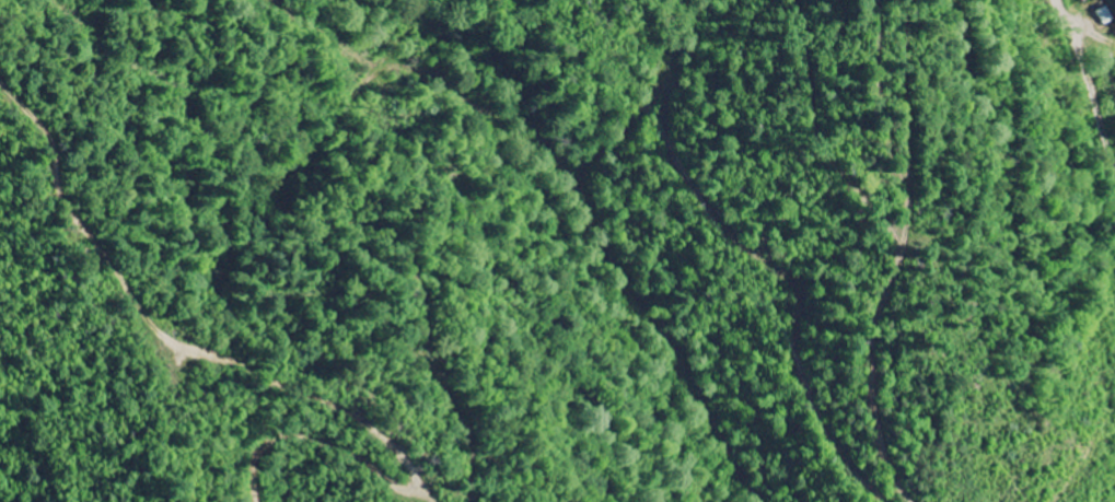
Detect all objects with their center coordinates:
building: (1107, 16)

